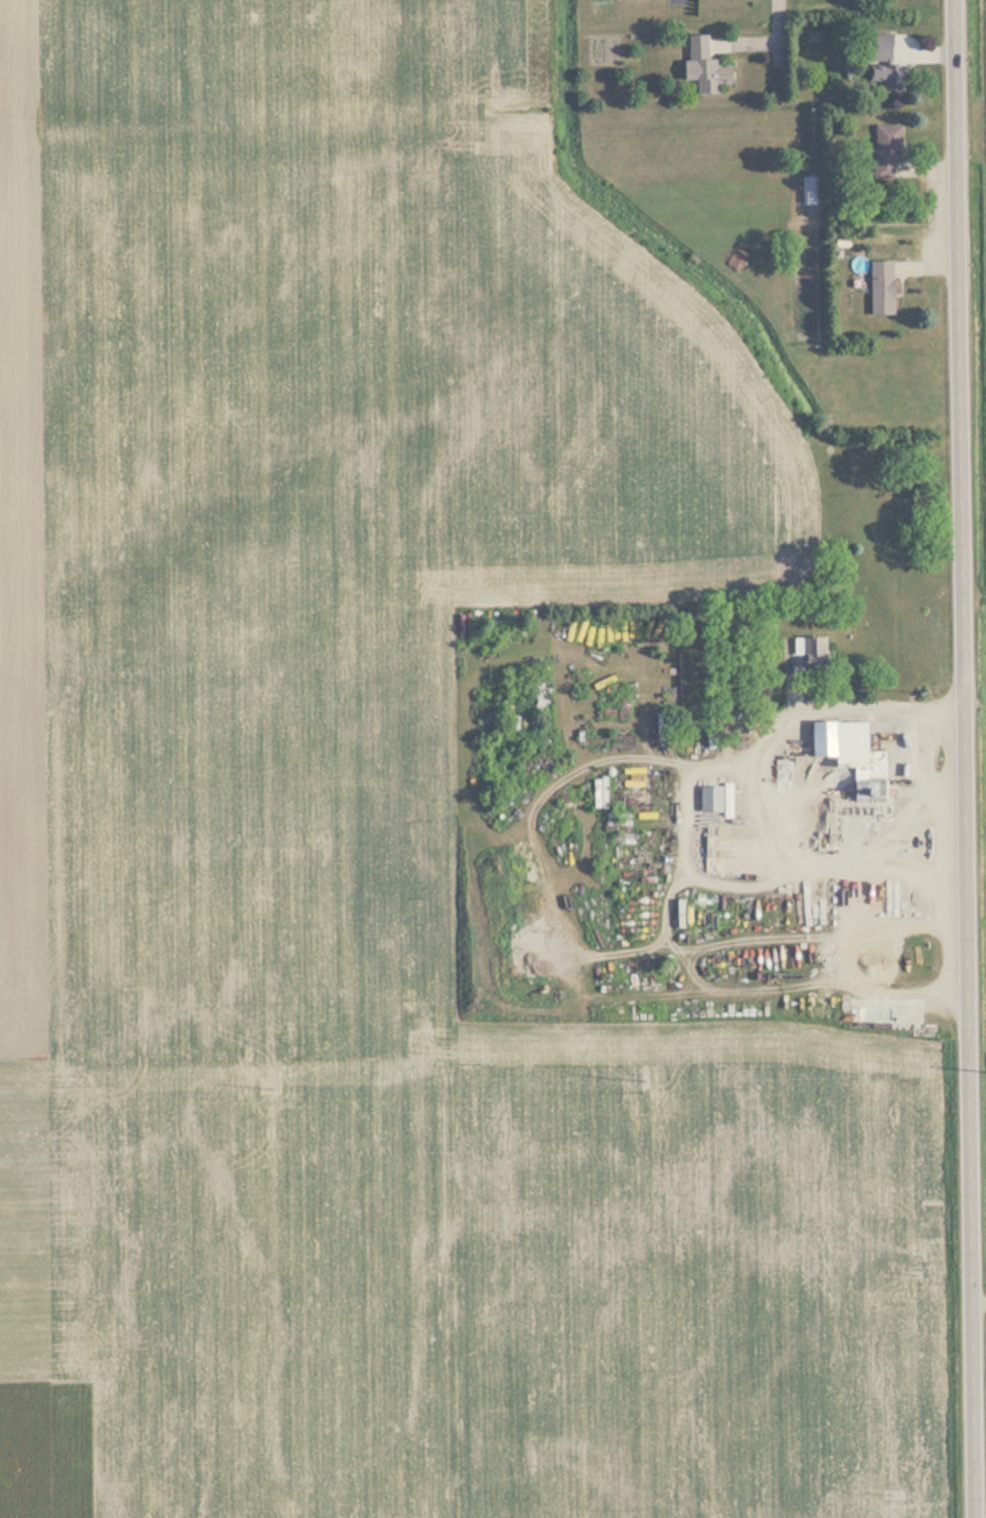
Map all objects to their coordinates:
road: (778, 29)
building: (701, 67)
building: (882, 69)
building: (885, 147)
building: (808, 191)
building: (878, 288)
building: (461, 625)
storage tank: (461, 625)
building: (811, 653)
building: (842, 745)
road: (969, 758)
building: (708, 799)
building: (908, 1018)

